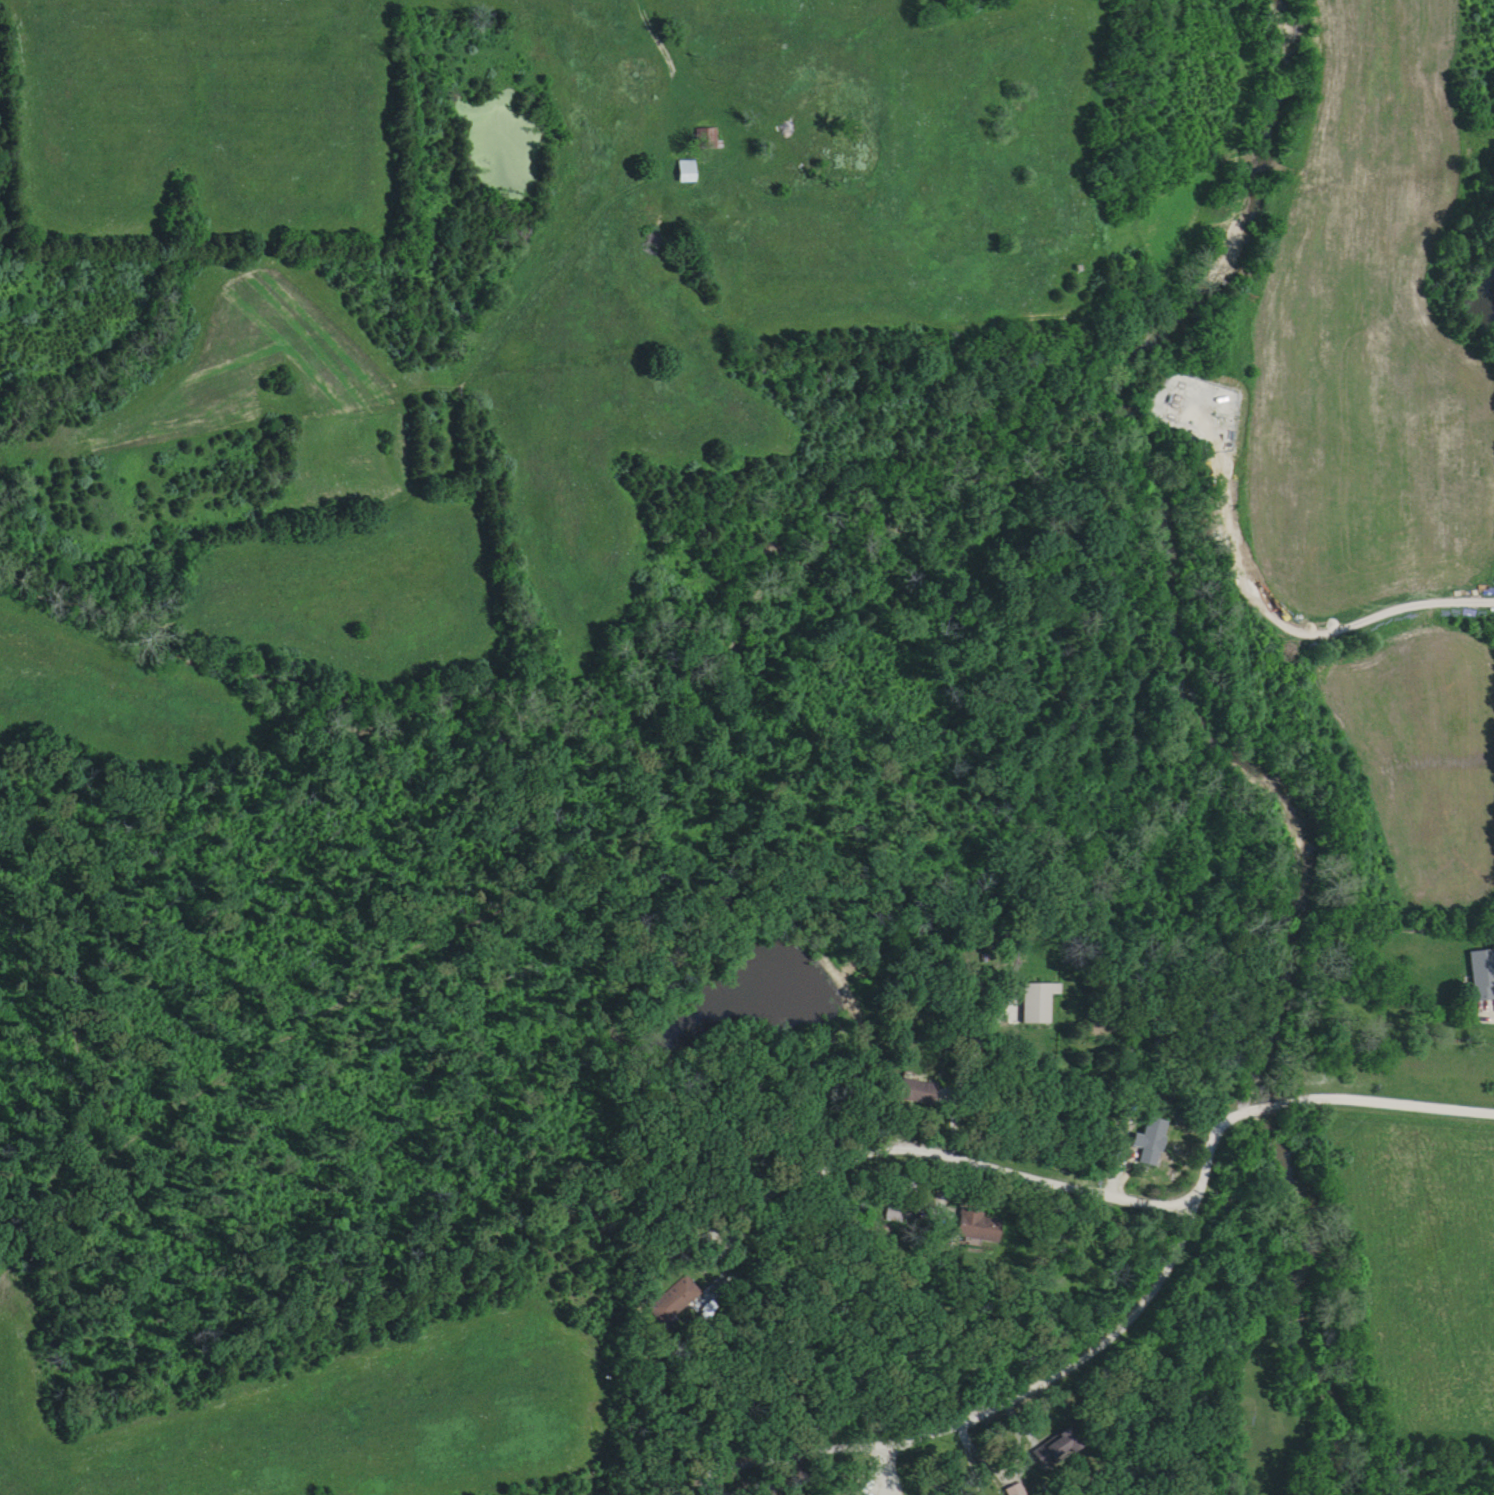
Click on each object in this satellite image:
building: (637, 73)
road: (501, 341)
road: (241, 425)
river: (1176, 536)
road: (1274, 620)
building: (1483, 976)
building: (1039, 1004)
building: (918, 1094)
road: (1319, 1101)
river: (1268, 1107)
building: (1152, 1144)
road: (965, 1163)
building: (975, 1225)
building: (713, 1256)
river: (1342, 1303)
road: (1039, 1391)
building: (1057, 1451)
road: (972, 1460)

